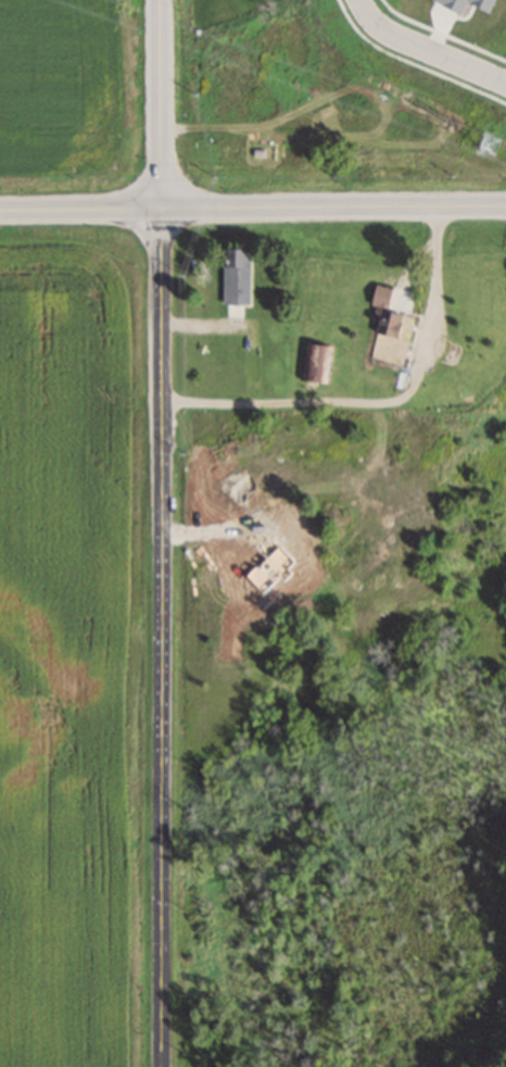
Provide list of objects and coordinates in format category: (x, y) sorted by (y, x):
road: (426, 50)
road: (161, 103)
power tower: (482, 143)
road: (253, 208)
building: (233, 276)
building: (380, 327)
building: (314, 363)
road: (163, 638)

